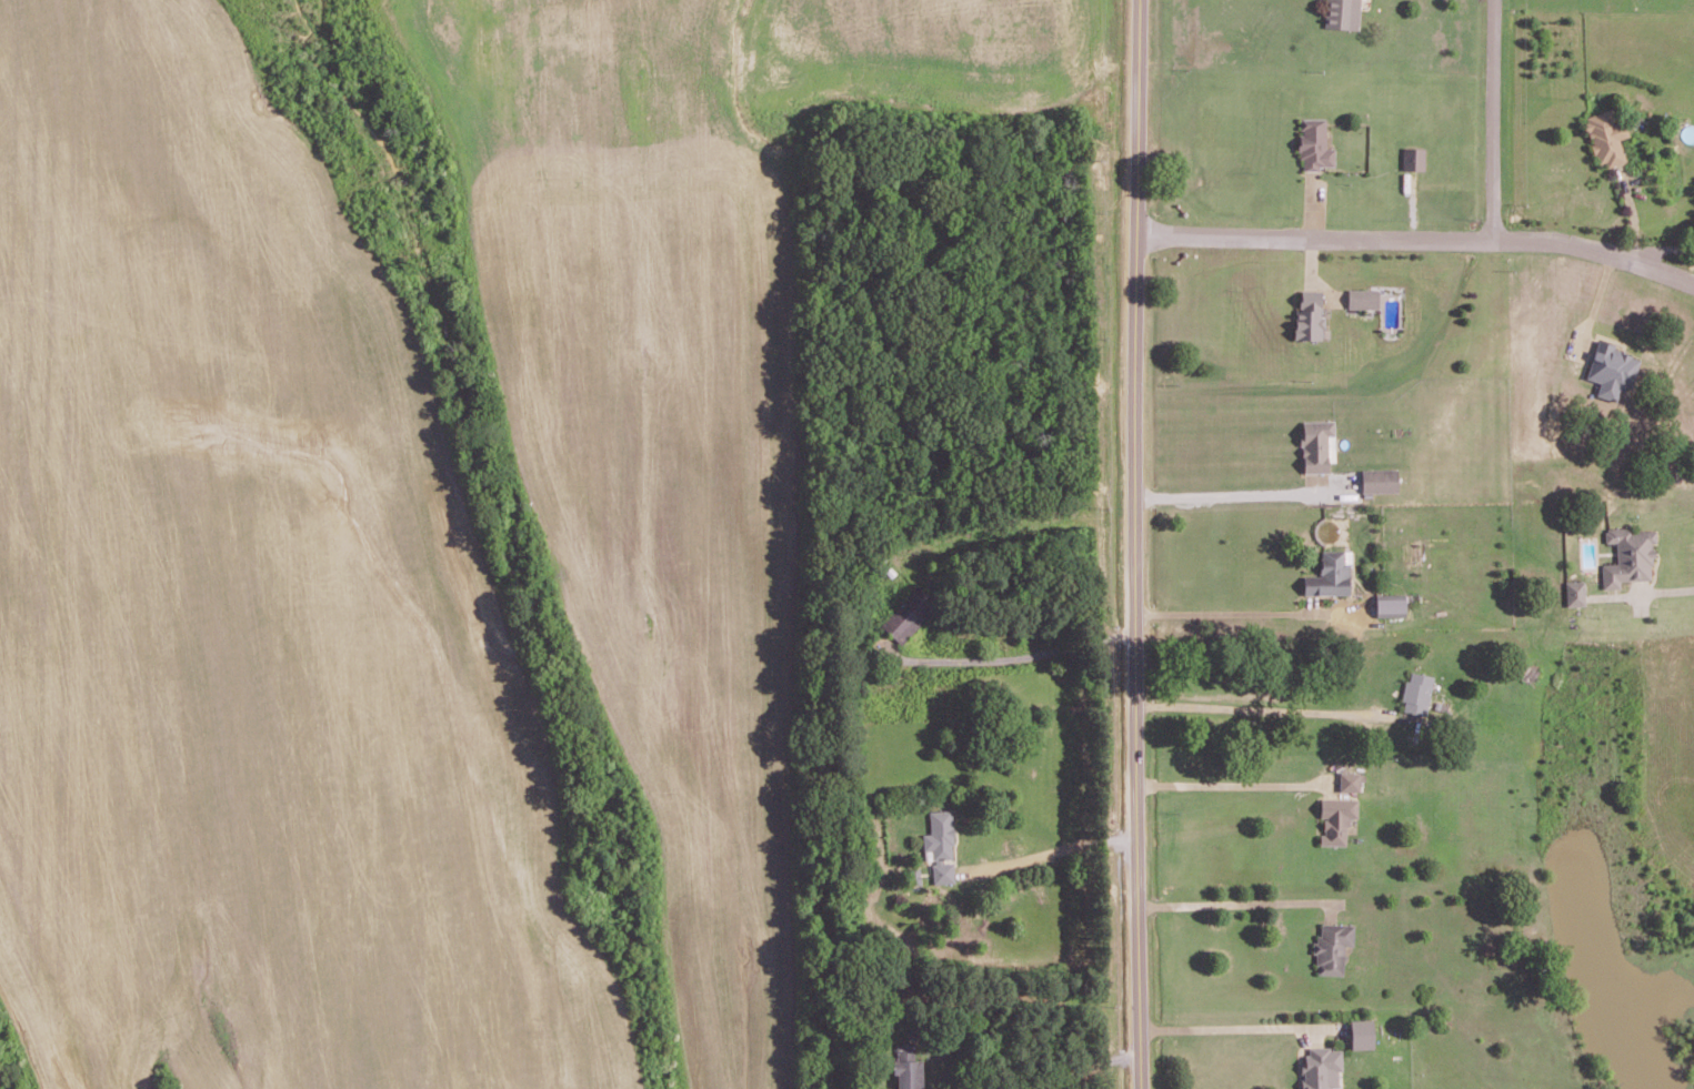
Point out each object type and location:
building: (1343, 13)
road: (1493, 121)
building: (1606, 135)
building: (1314, 144)
building: (1414, 158)
road: (1419, 239)
road: (1662, 249)
building: (1363, 298)
building: (1310, 314)
building: (1611, 370)
building: (1319, 445)
building: (1382, 481)
road: (1230, 494)
road: (1135, 544)
building: (1628, 556)
building: (1331, 574)
road: (1668, 591)
building: (1574, 593)
building: (1391, 607)
road: (1226, 612)
building: (910, 615)
road: (1021, 656)
building: (1419, 693)
road: (1256, 707)
building: (1351, 782)
road: (1233, 784)
building: (1337, 818)
building: (942, 845)
road: (1054, 854)
road: (1234, 901)
building: (1333, 946)
road: (1231, 1027)
building: (1361, 1032)
building: (1322, 1066)
road: (1087, 1068)
building: (908, 1075)

